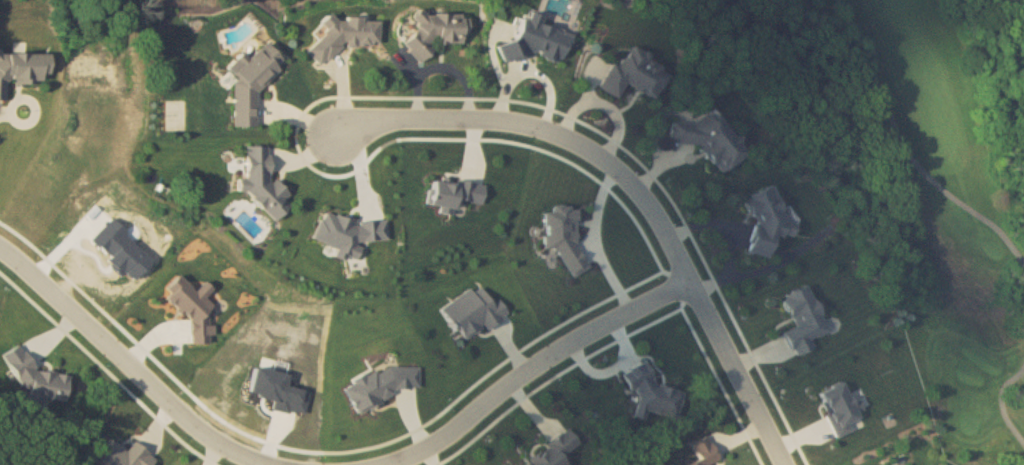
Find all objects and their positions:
building: (438, 33)
building: (348, 35)
building: (636, 75)
building: (252, 86)
building: (711, 140)
road: (905, 148)
park: (914, 174)
building: (264, 184)
road: (637, 188)
building: (769, 219)
road: (134, 362)
road: (535, 367)
building: (40, 380)
road: (1002, 403)
building: (704, 451)
building: (555, 453)

